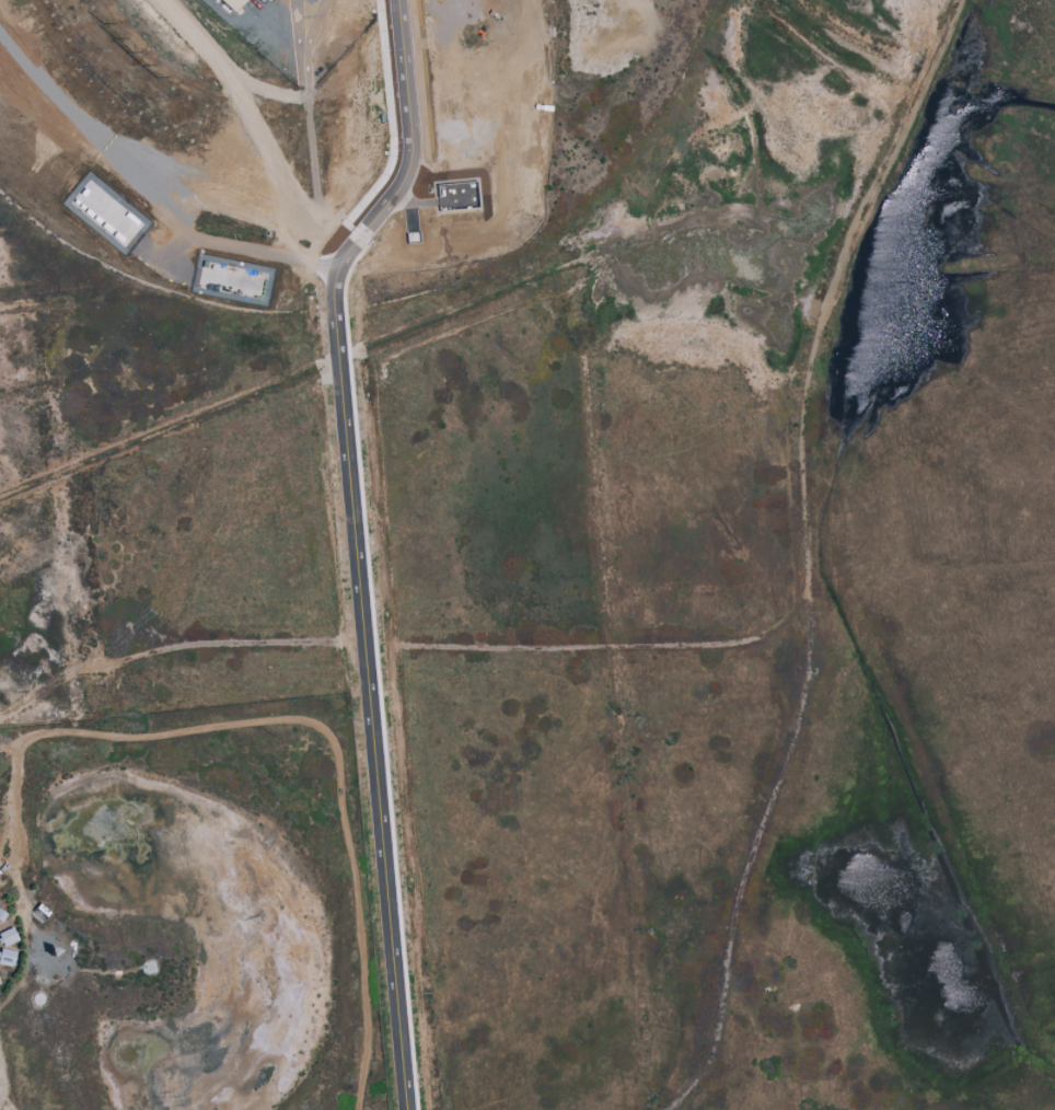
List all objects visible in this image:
building: (232, 3)
road: (315, 27)
road: (297, 28)
road: (223, 66)
road: (409, 151)
building: (103, 208)
road: (244, 248)
road: (807, 553)
road: (359, 577)

